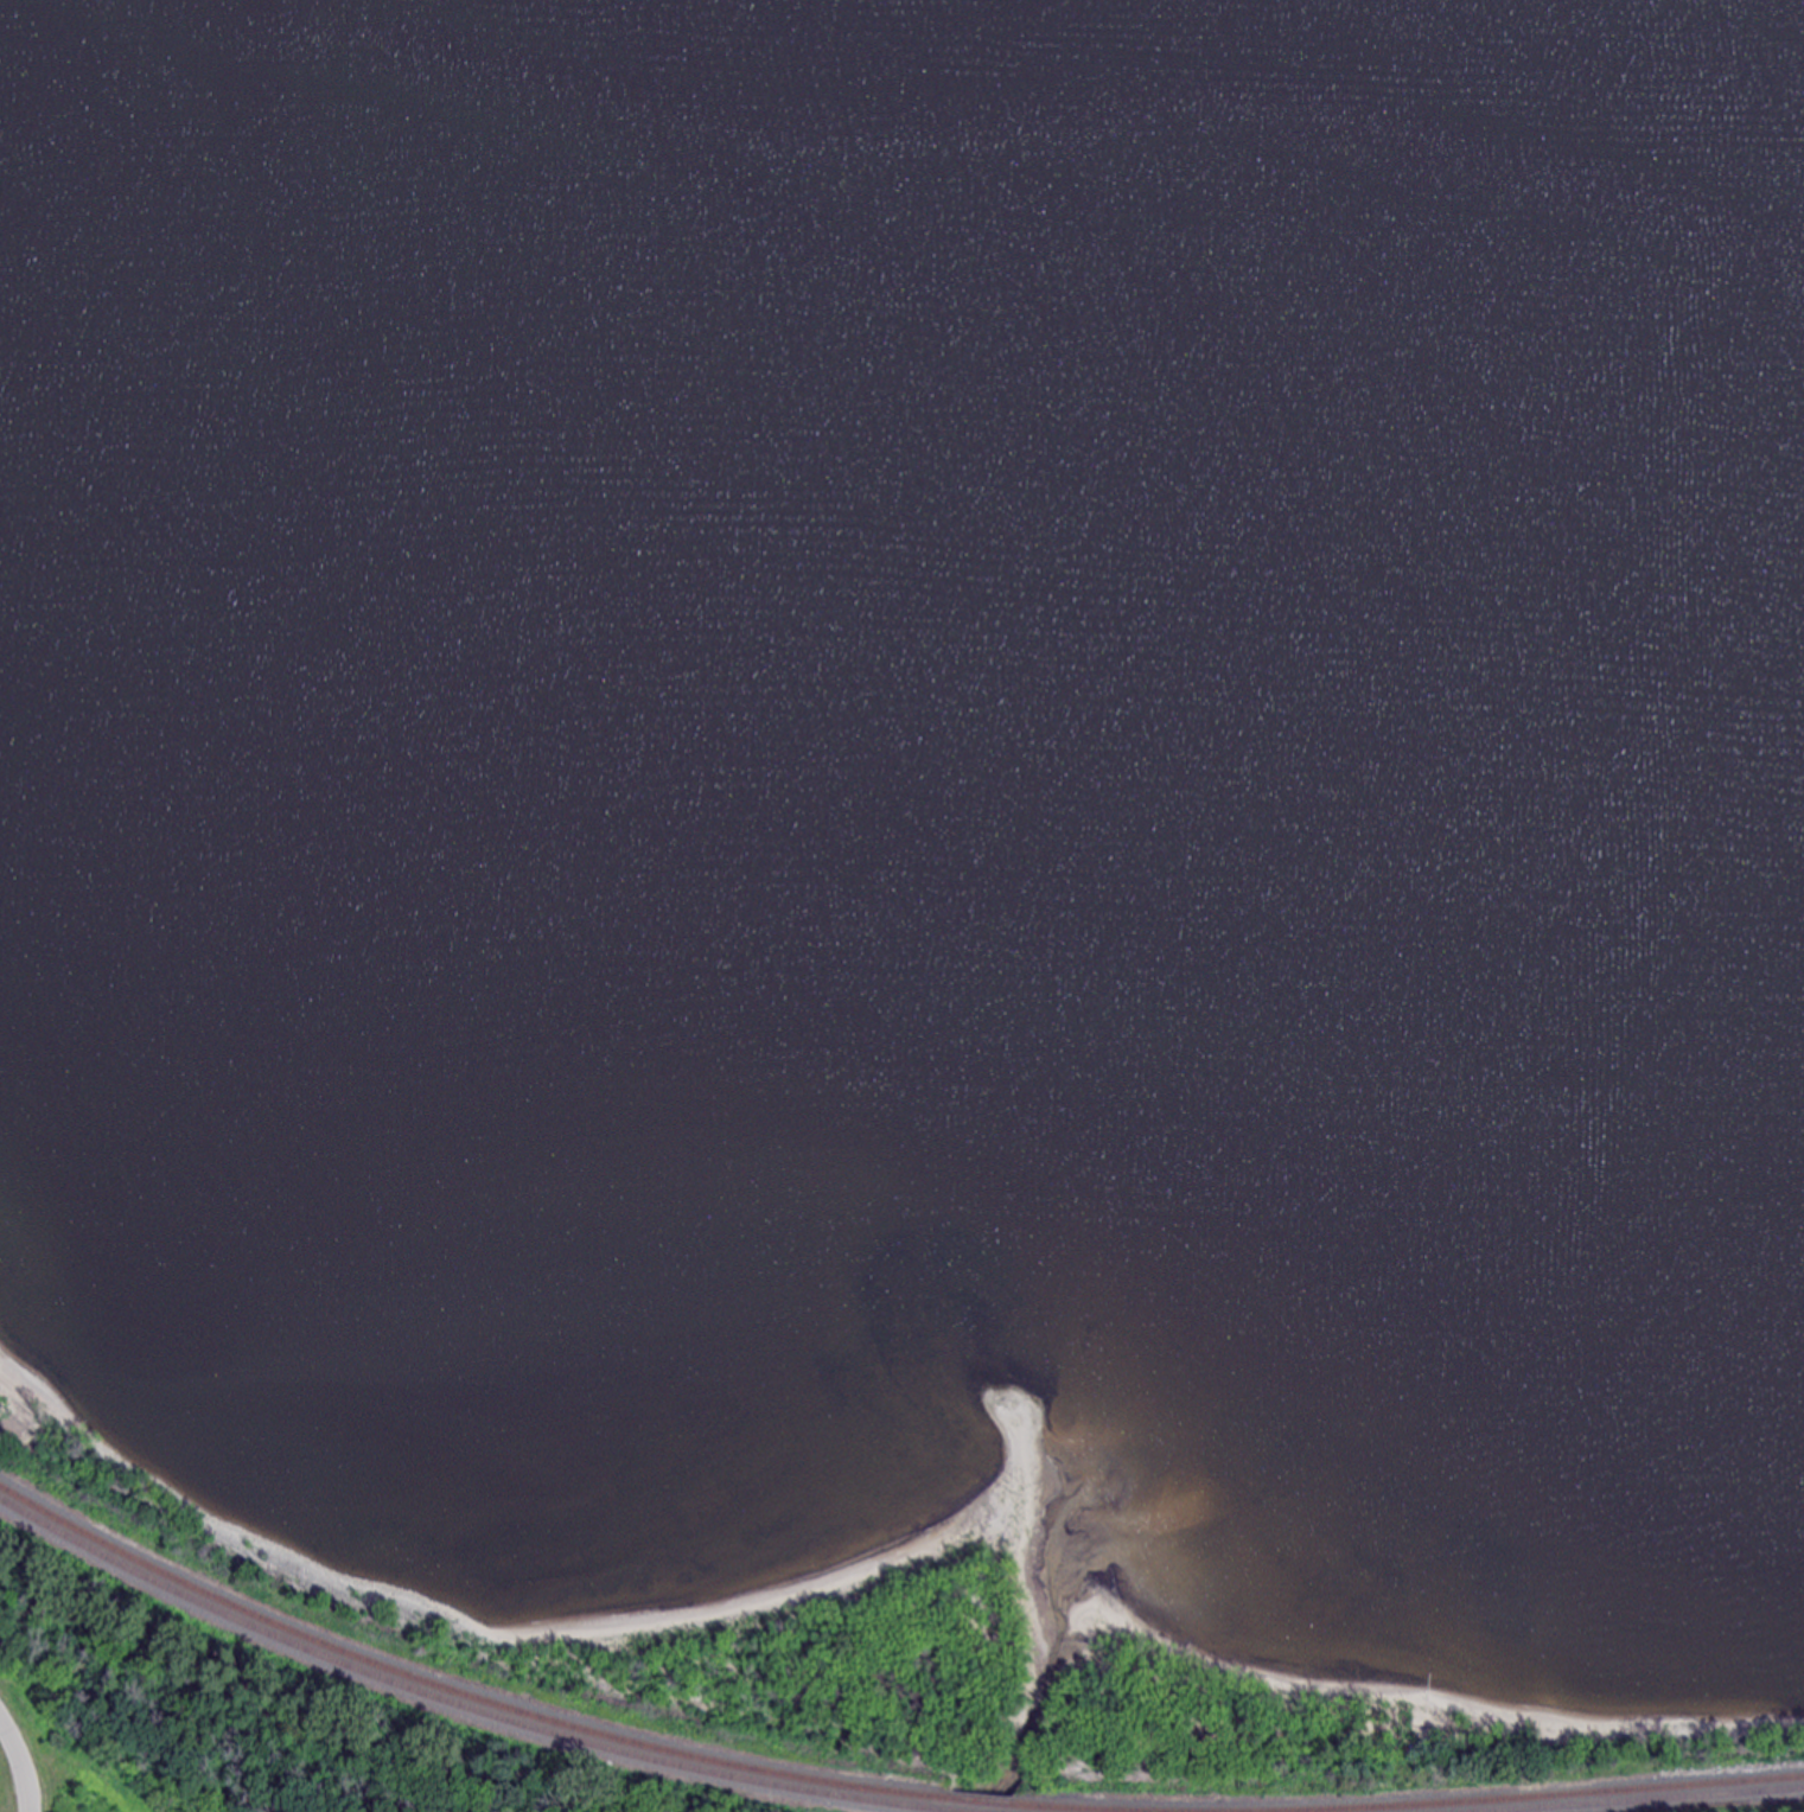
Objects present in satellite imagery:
railway: (458, 1692)
railway: (453, 1704)
road: (20, 1765)
railway: (1535, 1798)
railway: (1663, 1800)
railway: (984, 1803)
railway: (1072, 1808)

